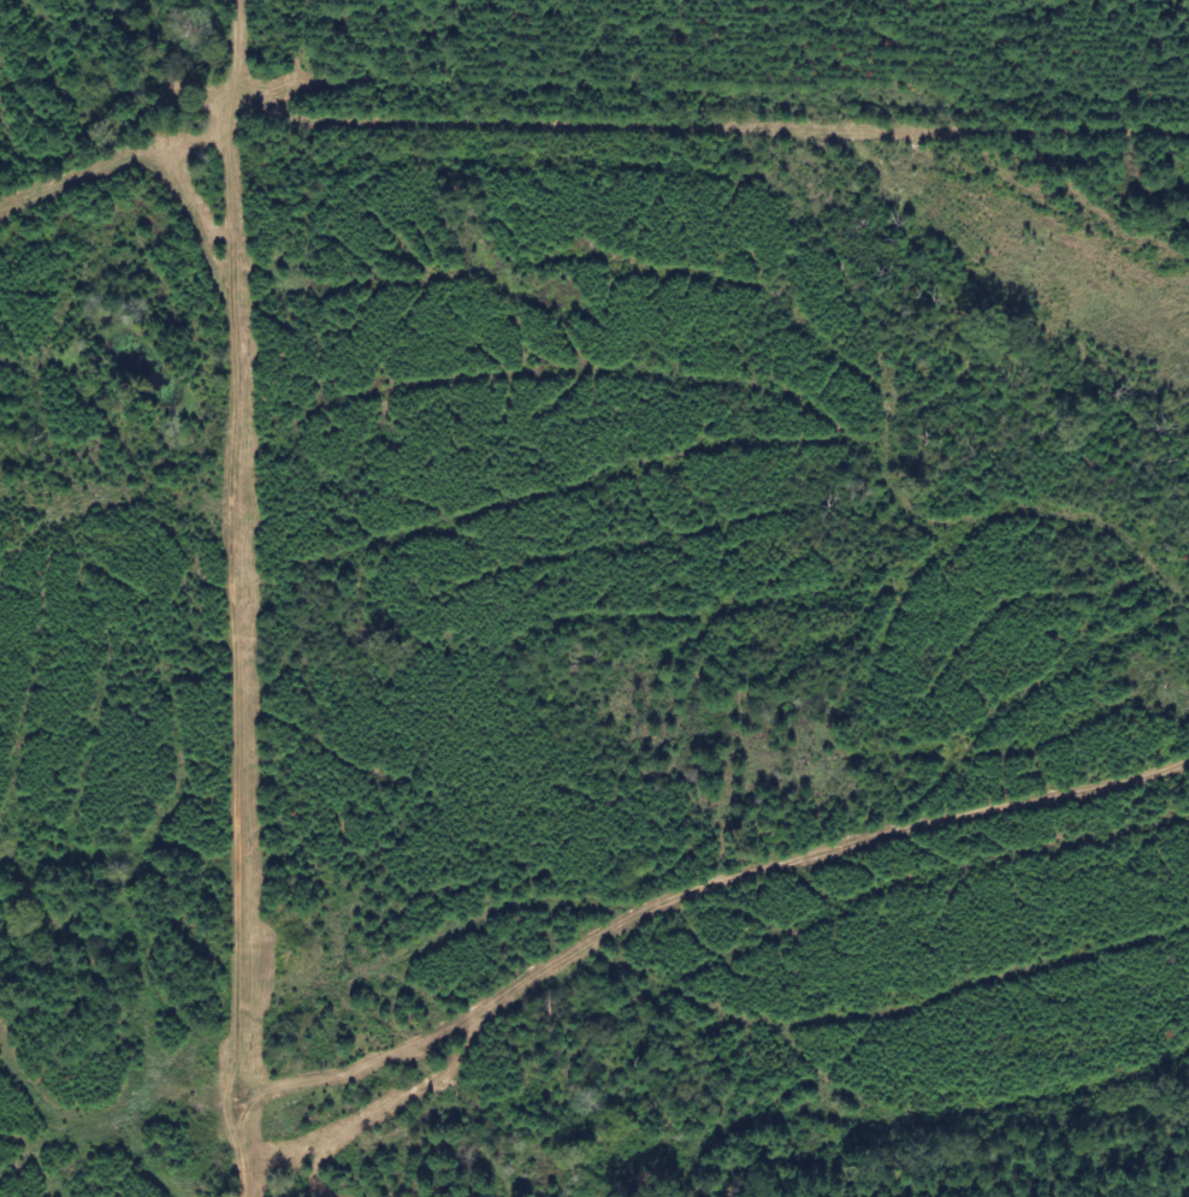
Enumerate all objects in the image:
road: (238, 1120)

